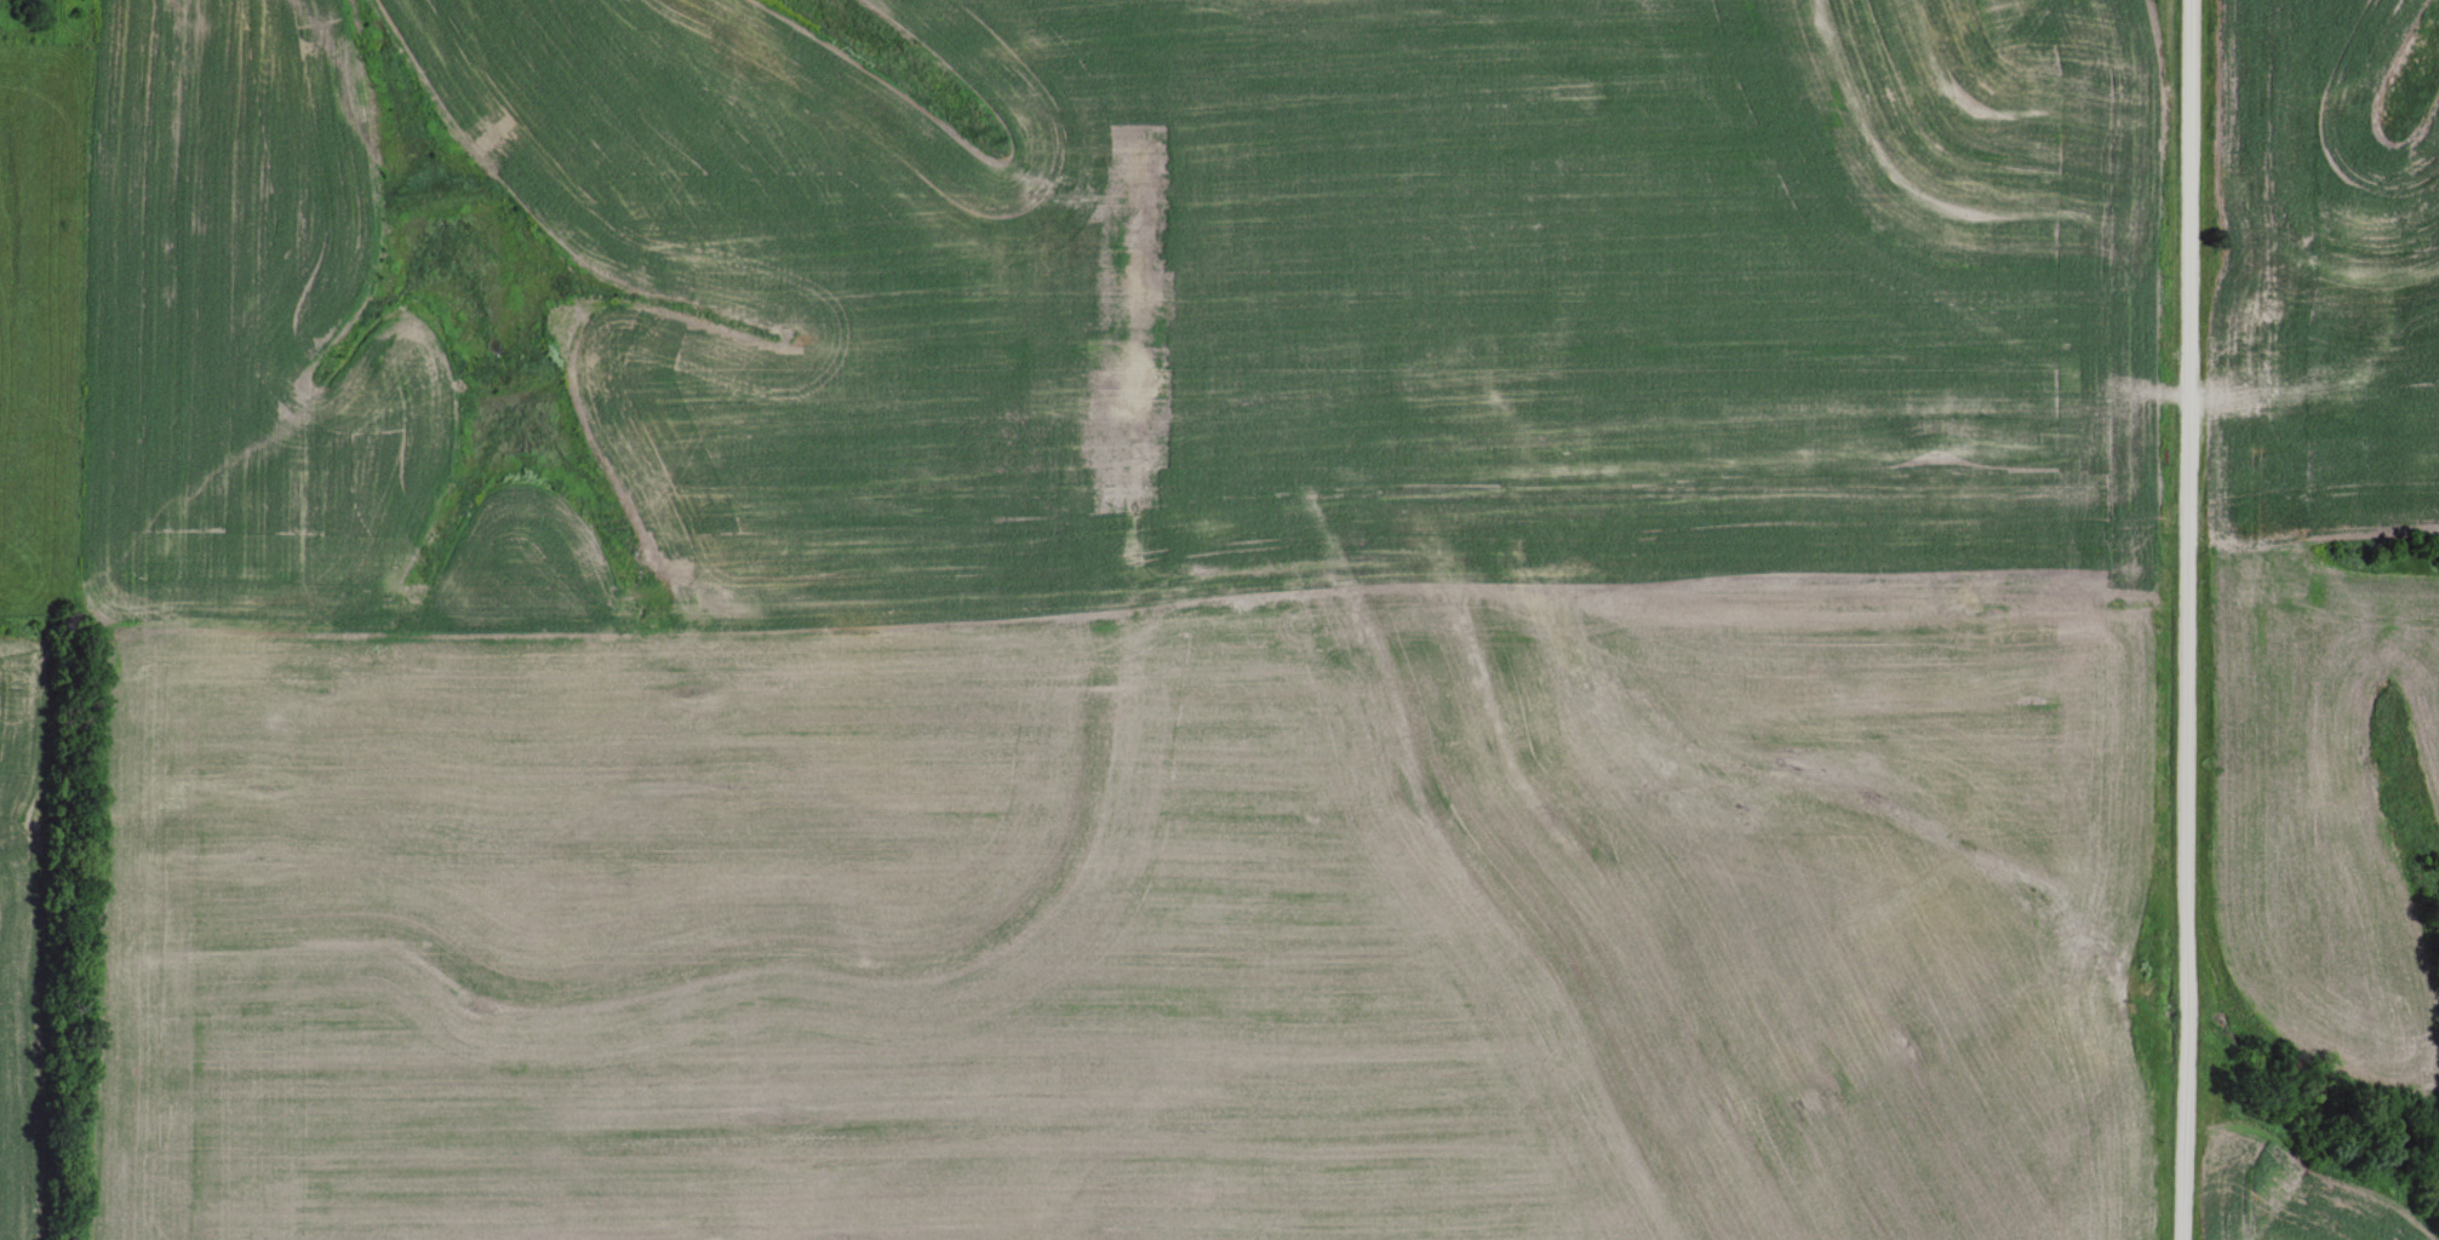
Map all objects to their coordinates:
road: (2185, 620)

